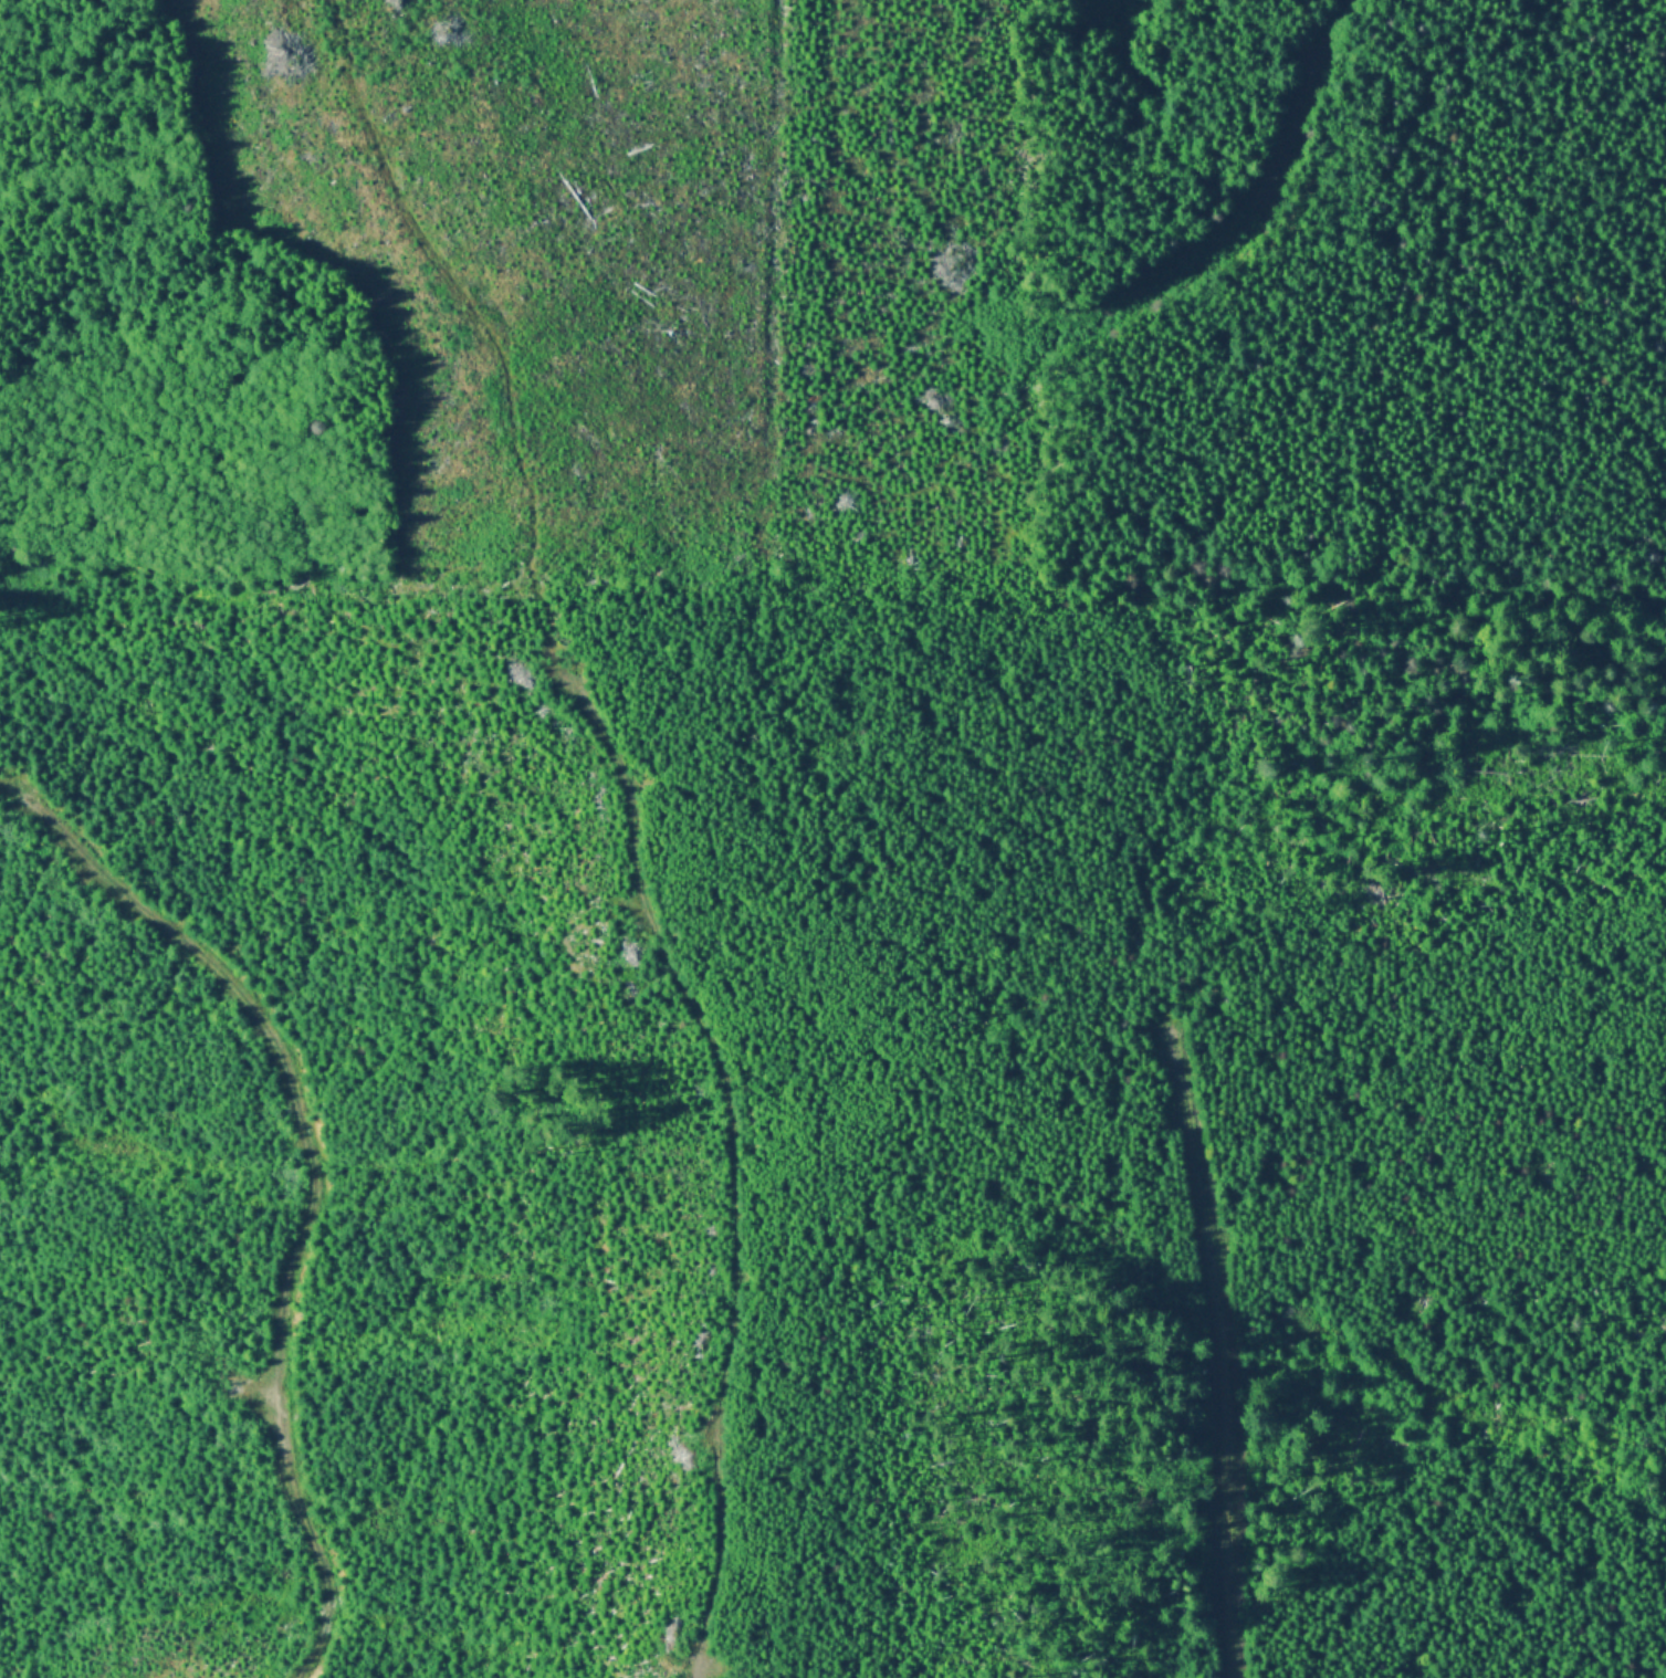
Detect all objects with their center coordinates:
road: (1326, 2)
road: (410, 186)
road: (1220, 1346)

